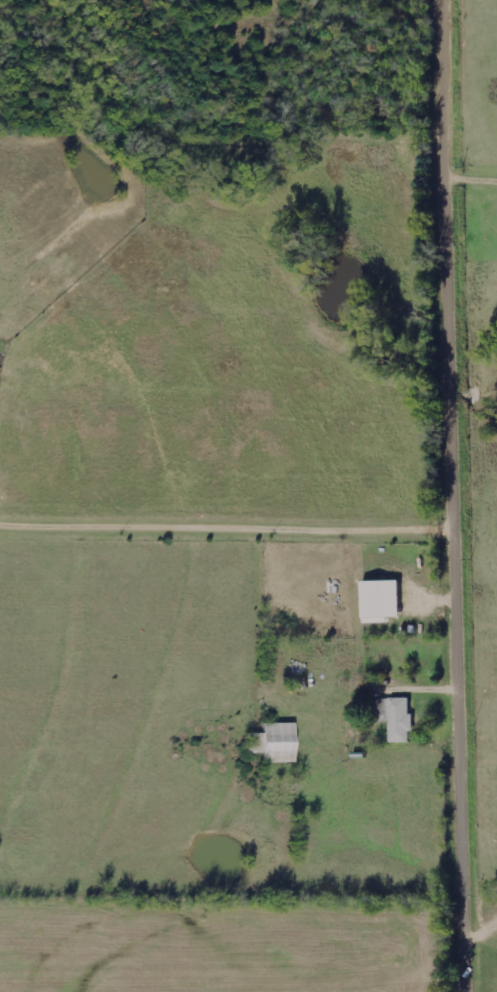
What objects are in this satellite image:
road: (463, 495)
road: (231, 527)
building: (379, 599)
building: (395, 717)
building: (273, 743)

